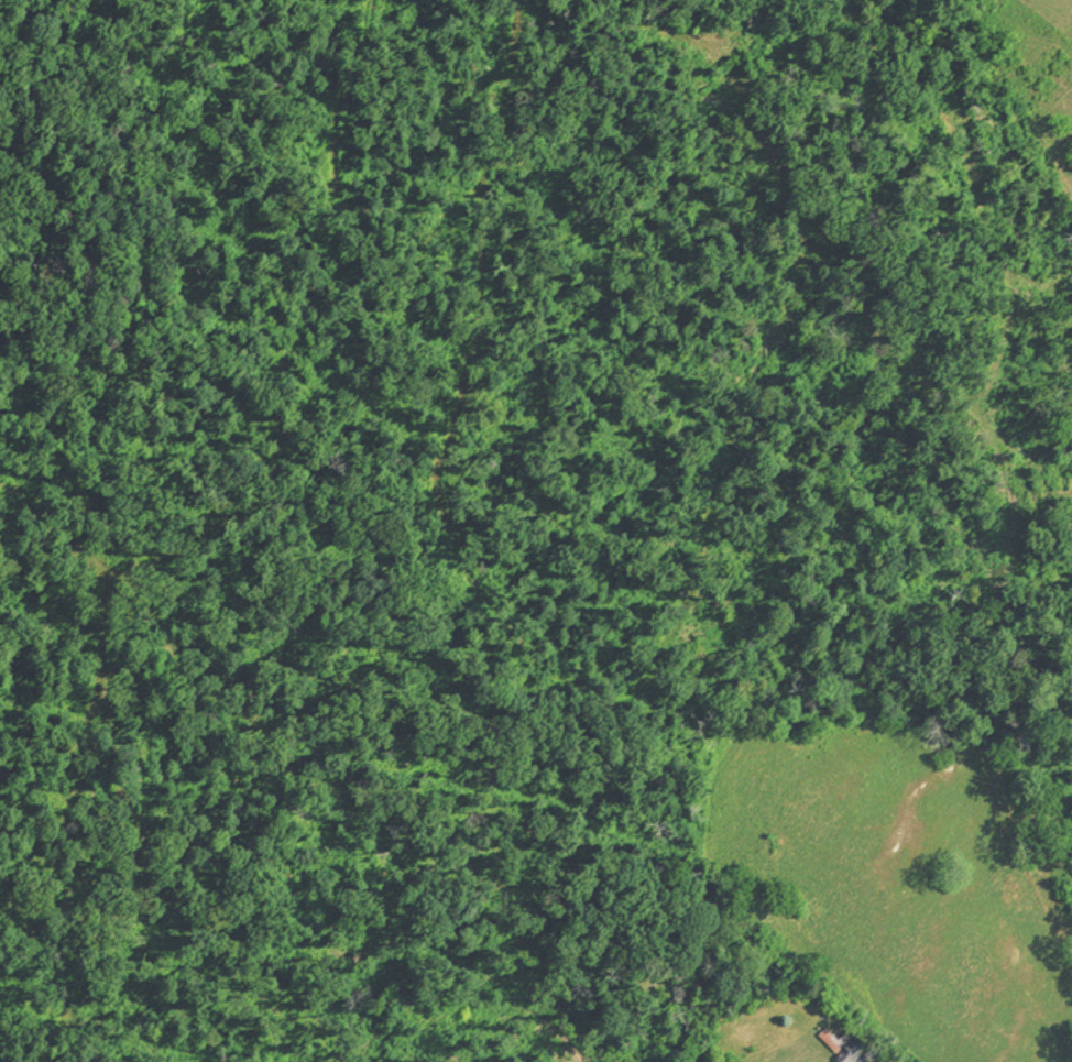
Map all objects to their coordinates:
crop: (1046, 78)
crop: (909, 874)
building: (855, 1045)

